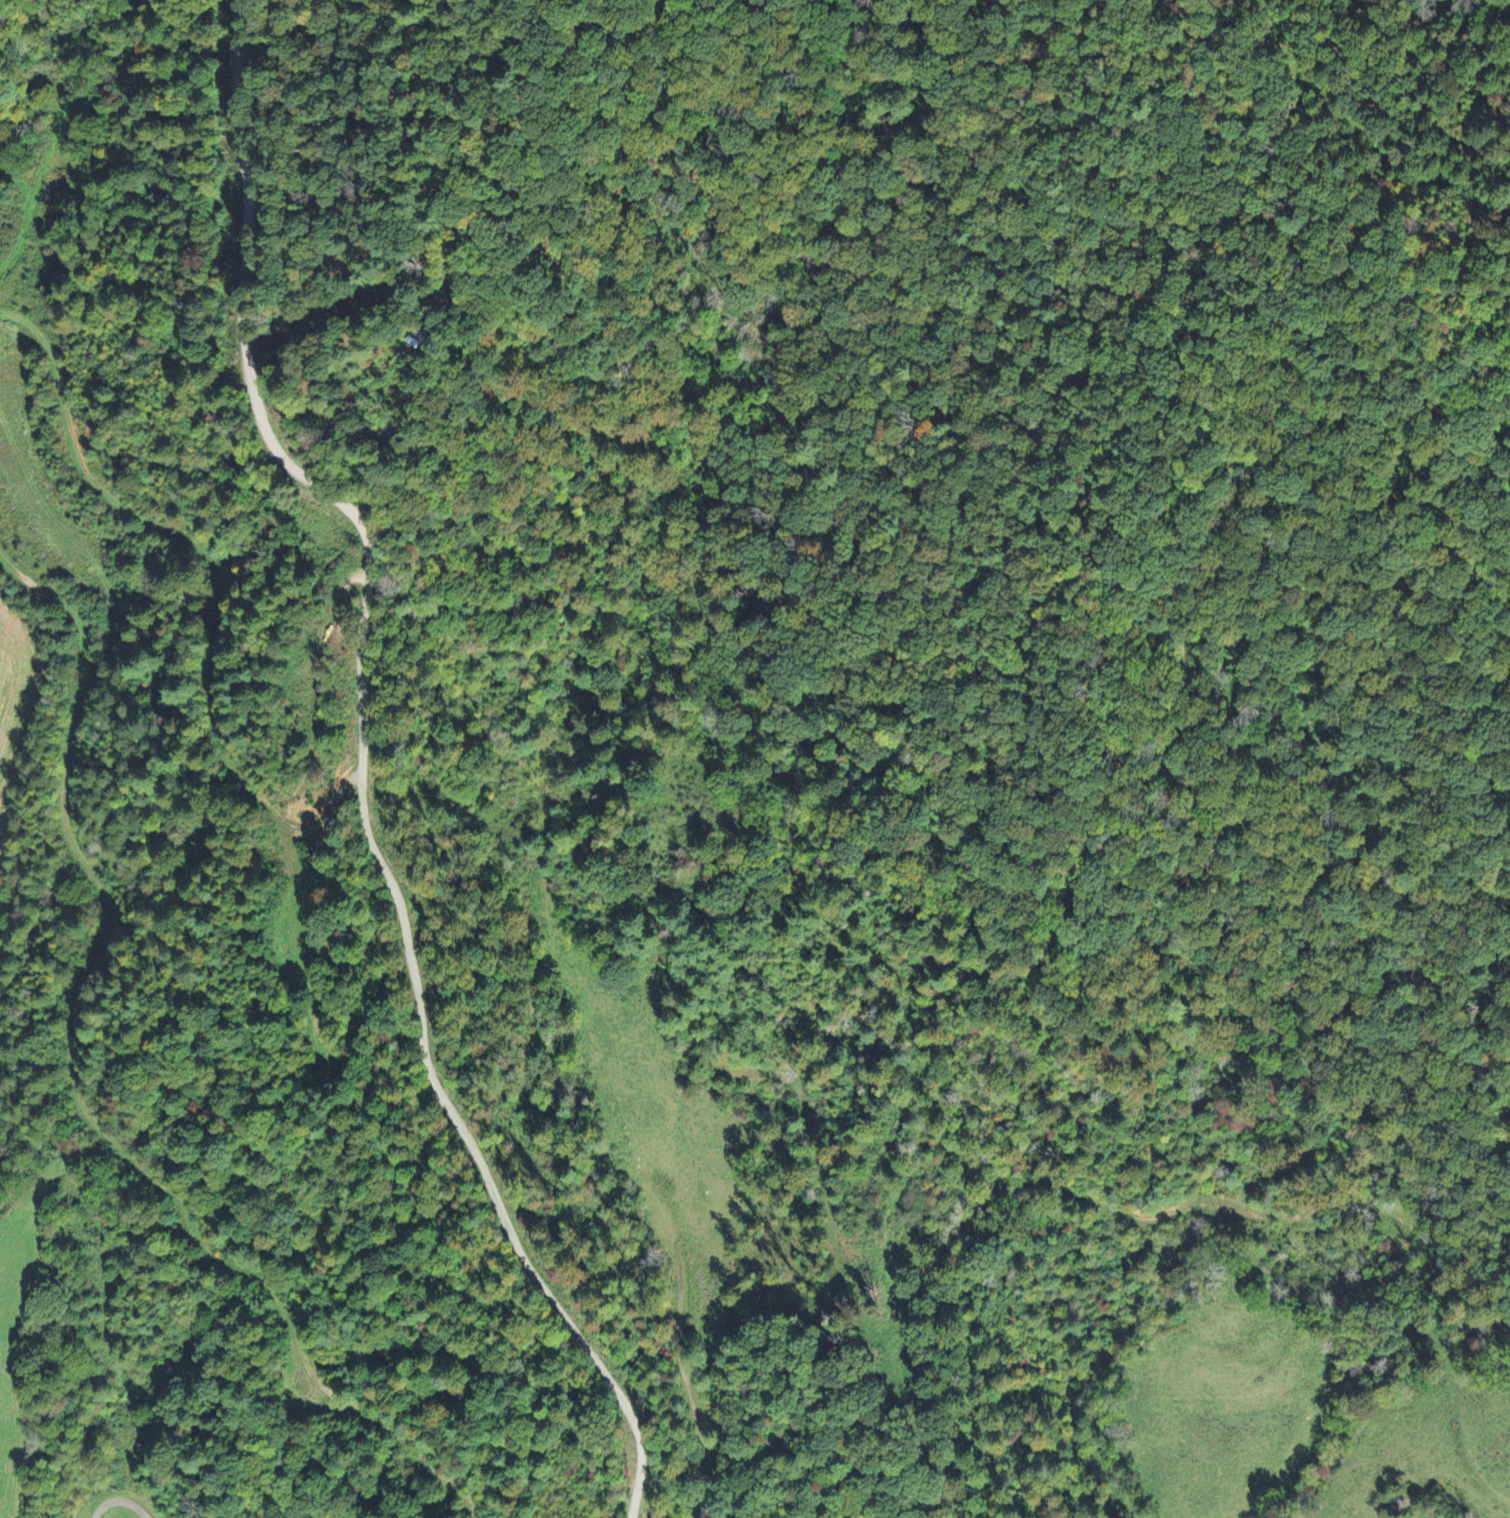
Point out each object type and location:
road: (464, 151)
road: (289, 465)
road: (505, 1217)
road: (120, 1504)

